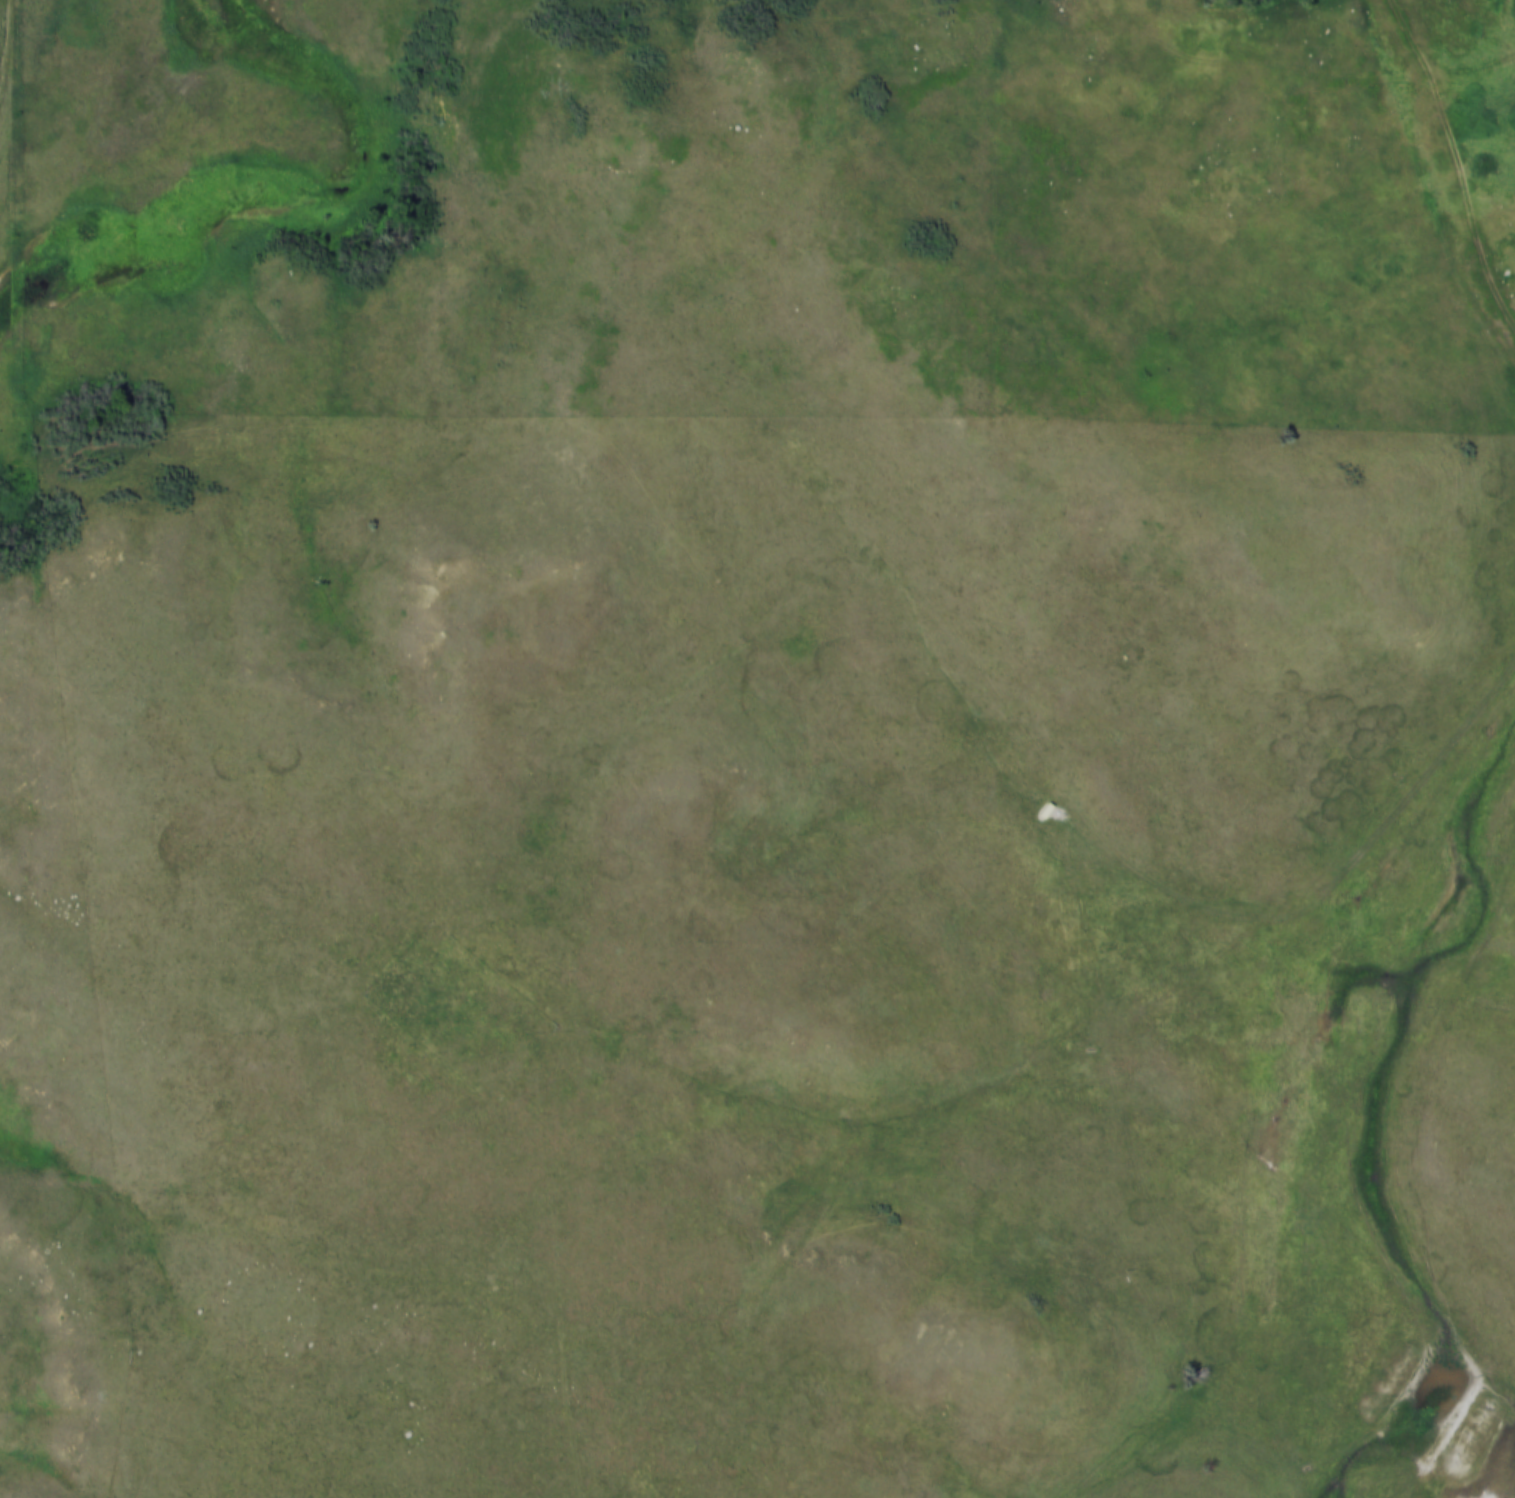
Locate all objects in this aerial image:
road: (1268, 1064)

